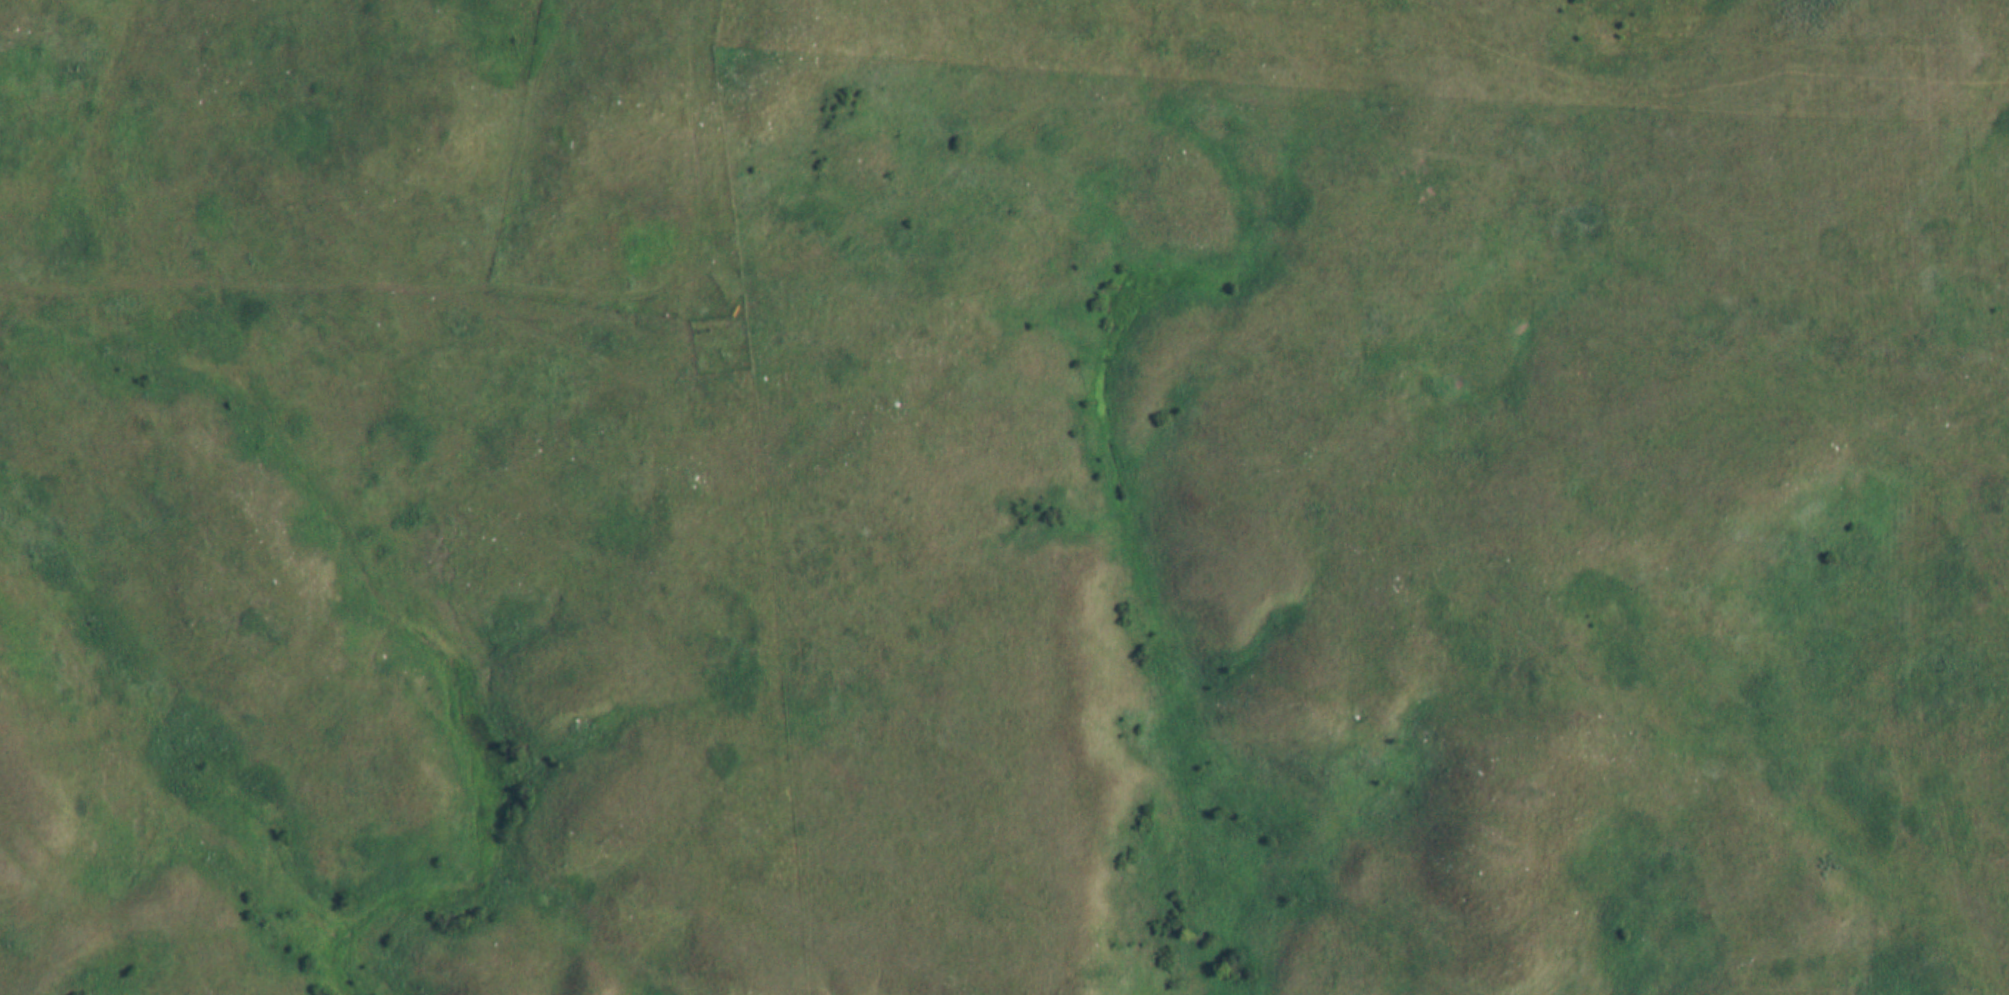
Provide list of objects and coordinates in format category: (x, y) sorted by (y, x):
road: (329, 265)

